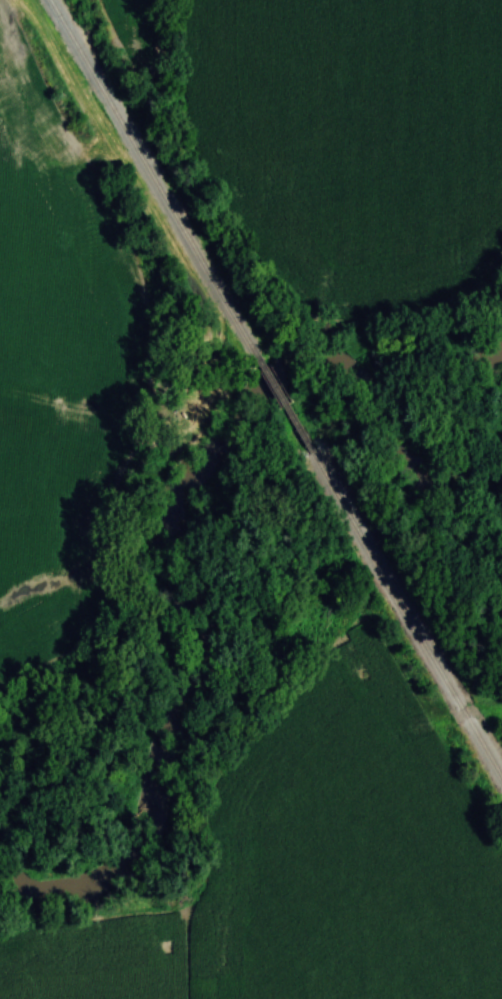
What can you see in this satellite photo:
railway: (160, 180)
railway: (284, 386)
river: (191, 502)
railway: (400, 588)

